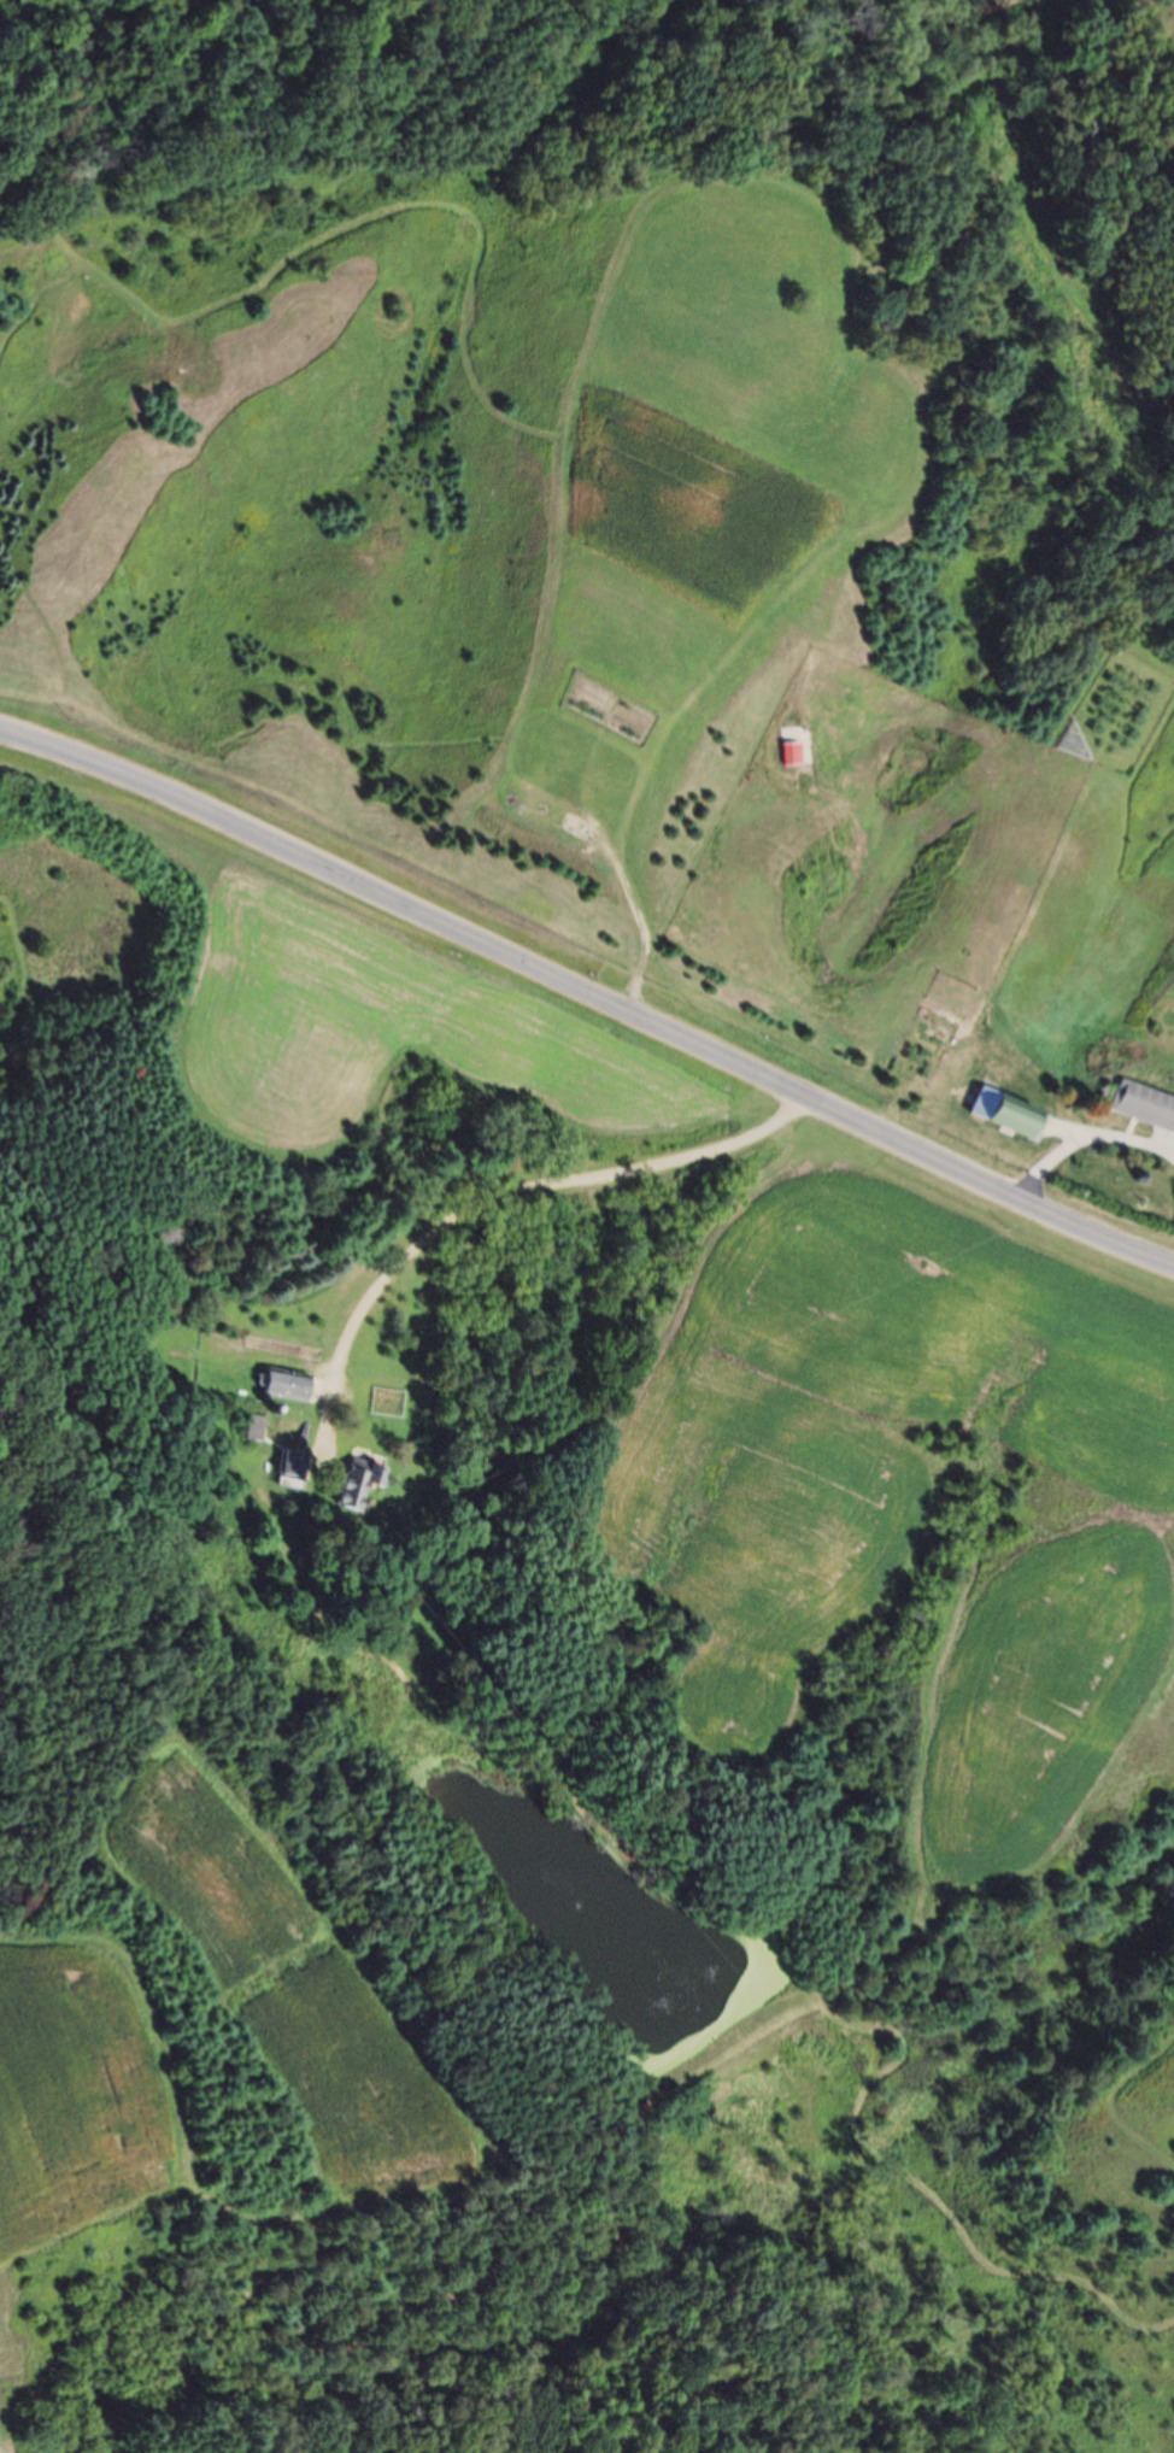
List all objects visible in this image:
building: (799, 755)
road: (588, 993)
building: (1146, 1104)
building: (1014, 1114)
road: (417, 1169)
building: (295, 1387)
building: (303, 1467)
building: (365, 1484)

